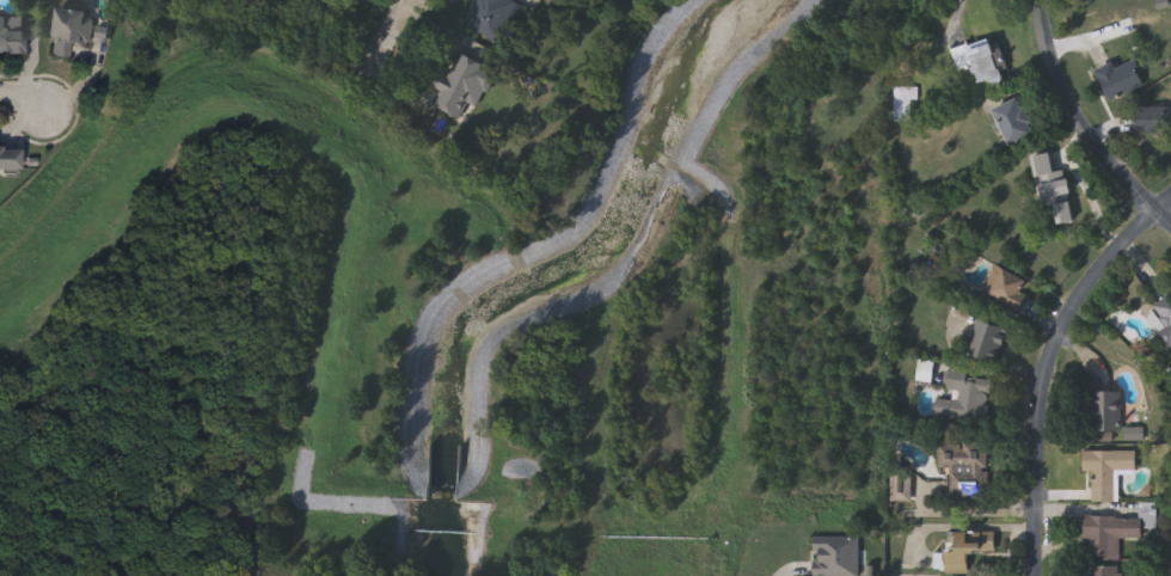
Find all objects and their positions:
building: (490, 17)
building: (69, 31)
building: (11, 35)
road: (384, 37)
building: (980, 60)
building: (1121, 78)
building: (461, 88)
road: (20, 100)
building: (905, 104)
building: (1153, 118)
building: (1016, 122)
road: (1079, 128)
building: (10, 160)
building: (1056, 191)
building: (1008, 288)
building: (1163, 319)
building: (987, 339)
road: (1052, 368)
building: (967, 396)
building: (1105, 410)
building: (967, 467)
building: (1109, 468)
building: (901, 484)
building: (1118, 529)
building: (969, 547)
building: (836, 558)
building: (1105, 570)

